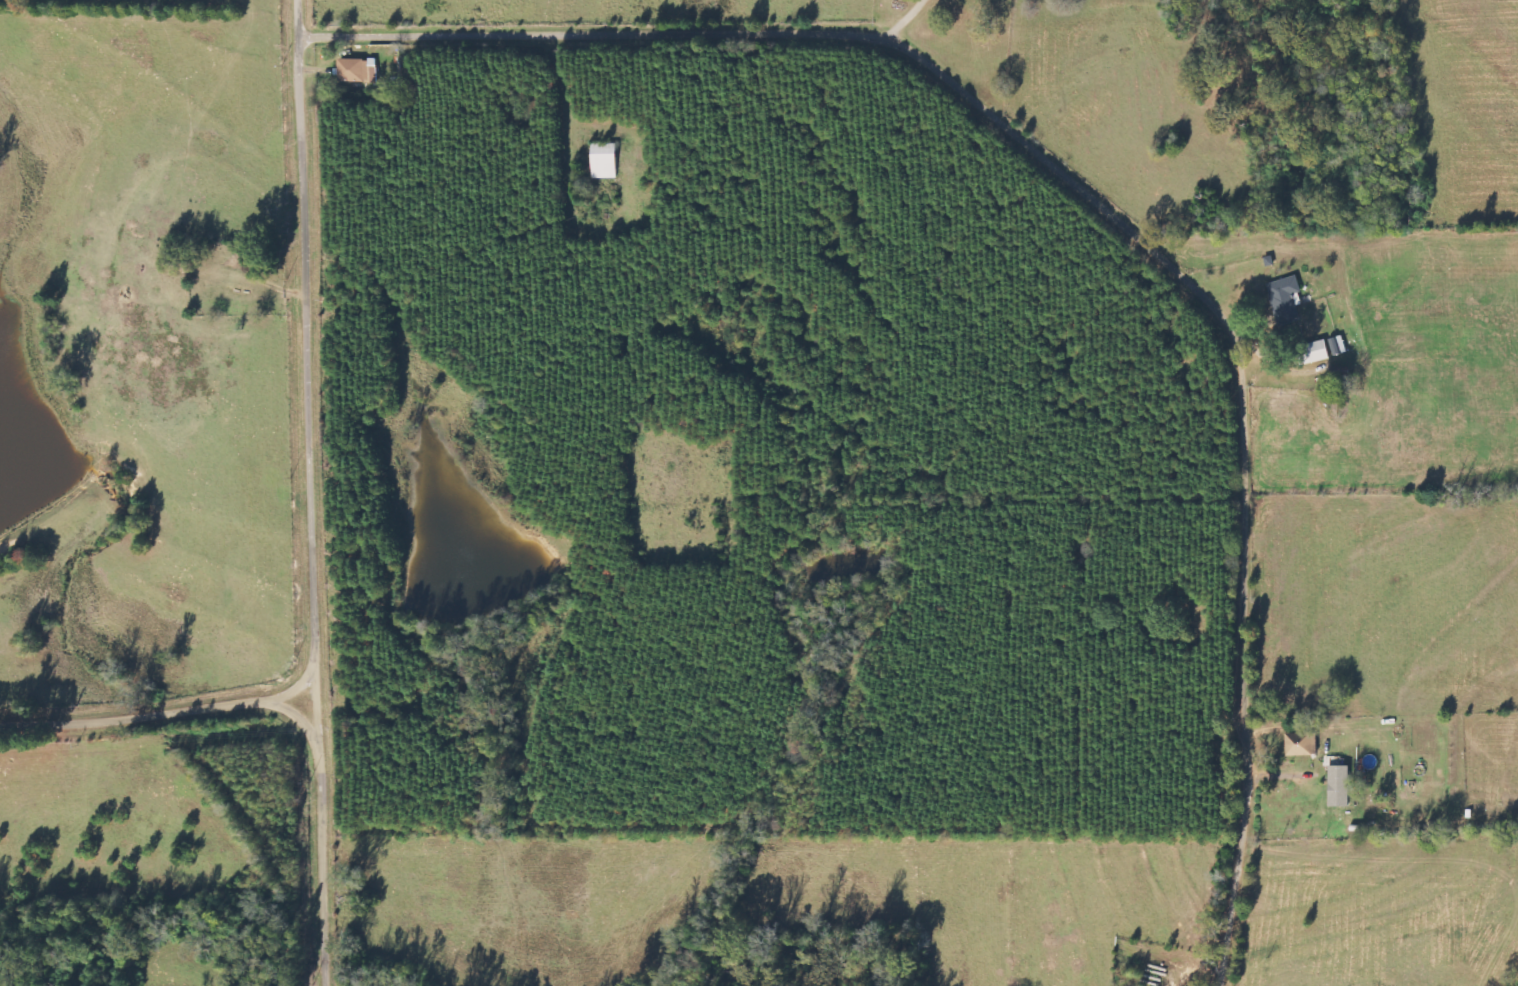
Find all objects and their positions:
building: (353, 70)
building: (372, 71)
building: (604, 161)
road: (1101, 197)
building: (1286, 299)
building: (1338, 346)
building: (1315, 354)
road: (1387, 462)
road: (317, 493)
road: (161, 711)
building: (1302, 745)
building: (1341, 786)
building: (1377, 806)

